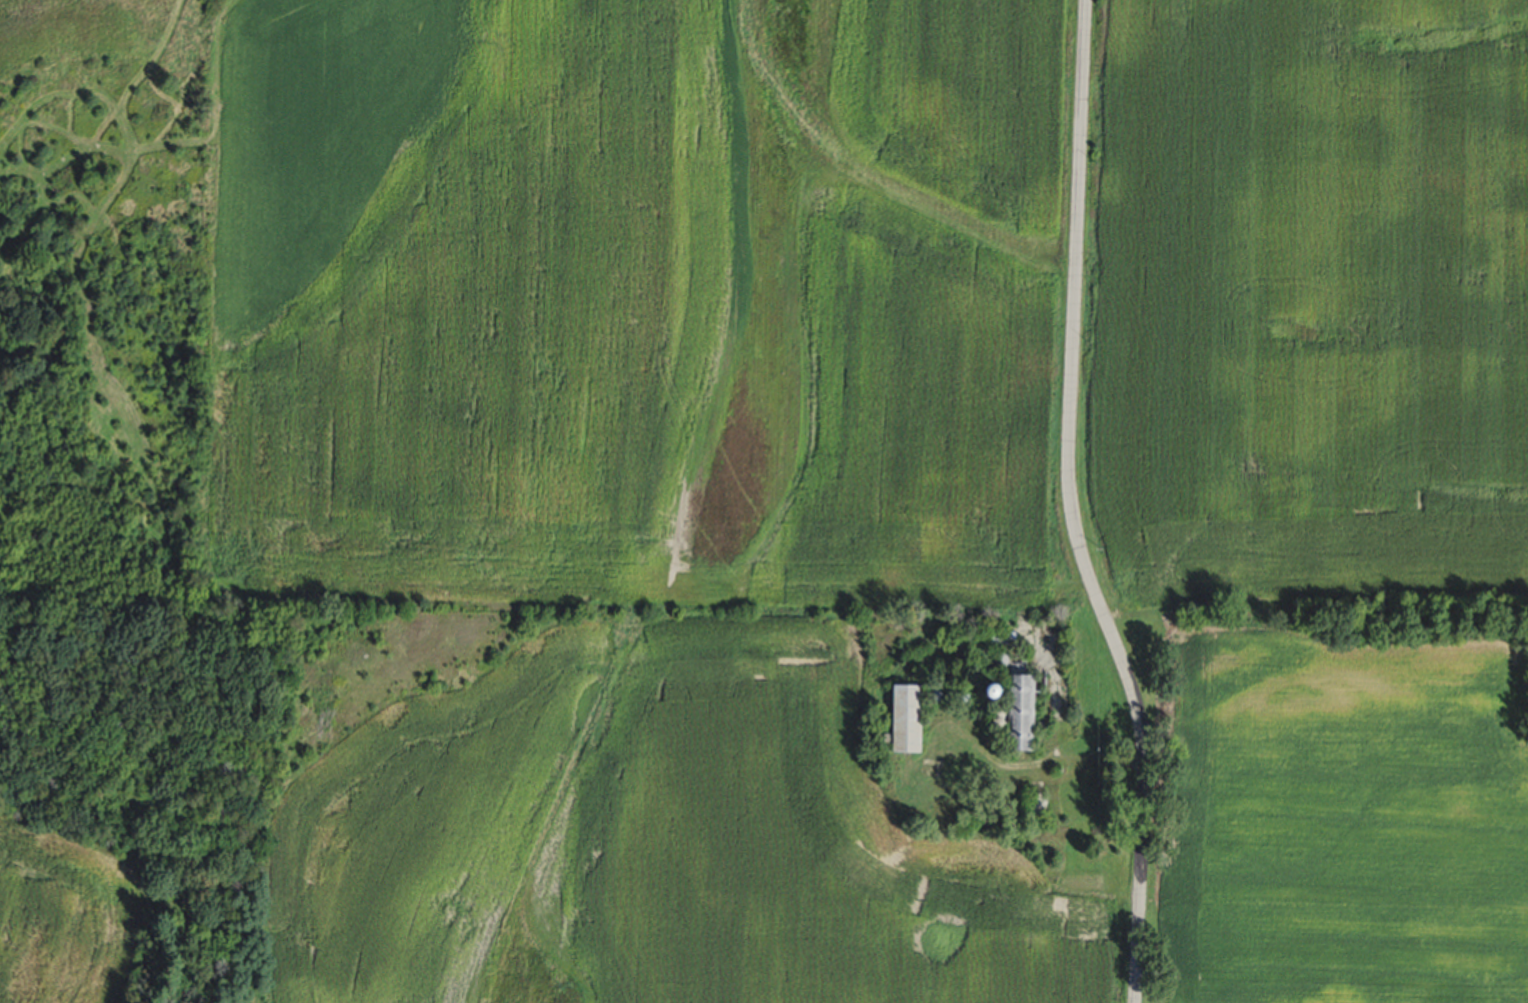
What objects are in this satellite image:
road: (1071, 506)
building: (1004, 685)
building: (900, 718)
building: (1037, 804)

